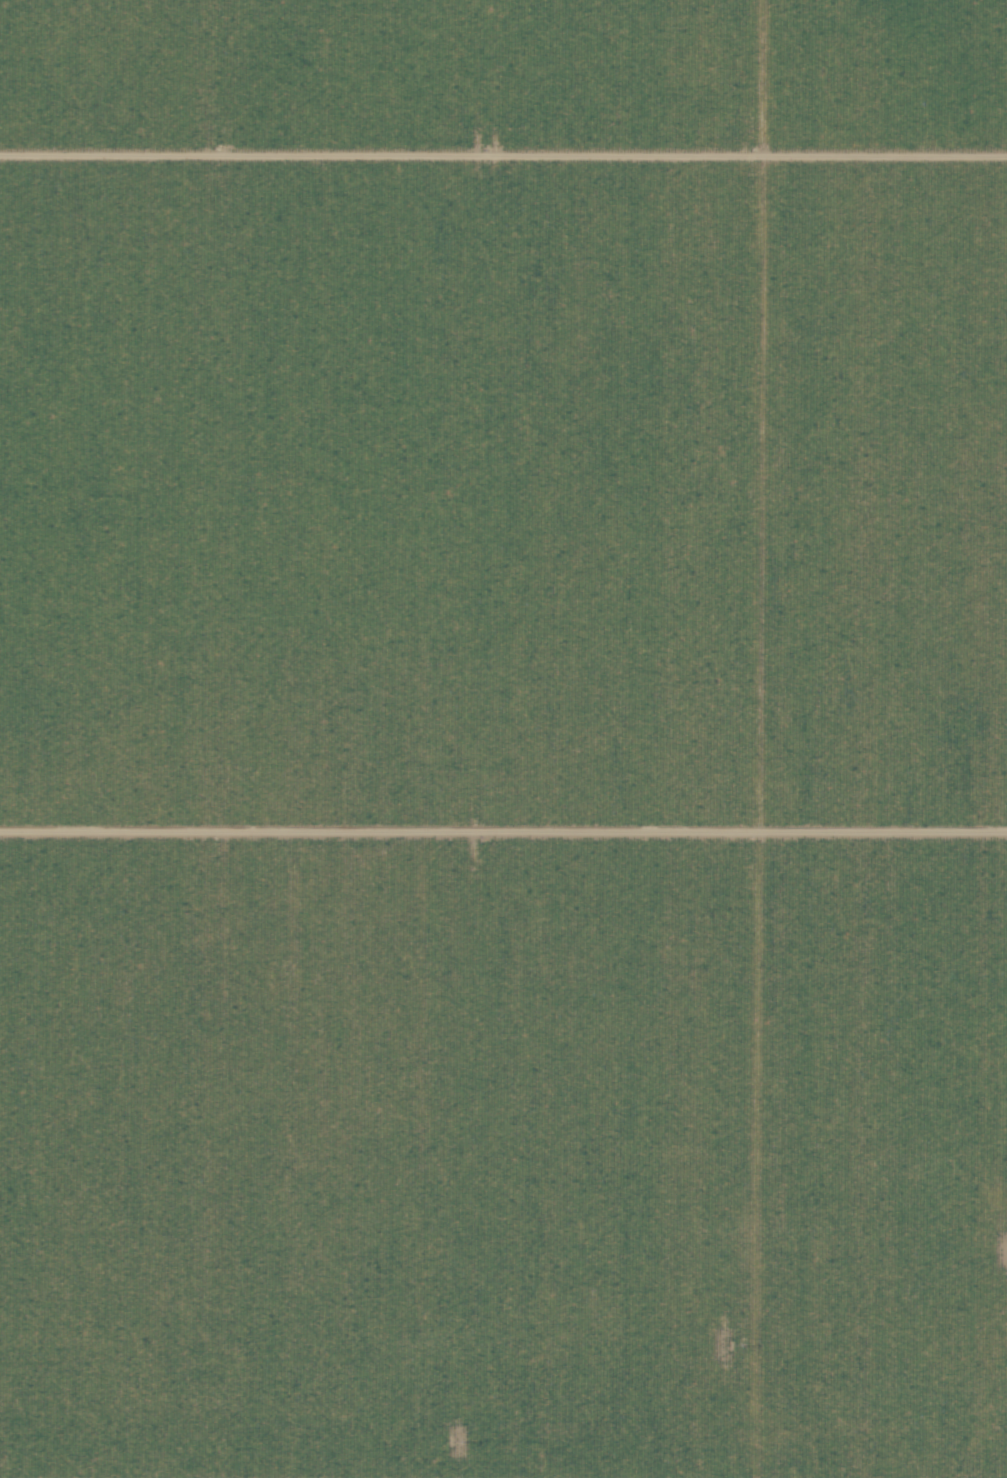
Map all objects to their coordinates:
crop: (366, 650)
crop: (748, 897)

